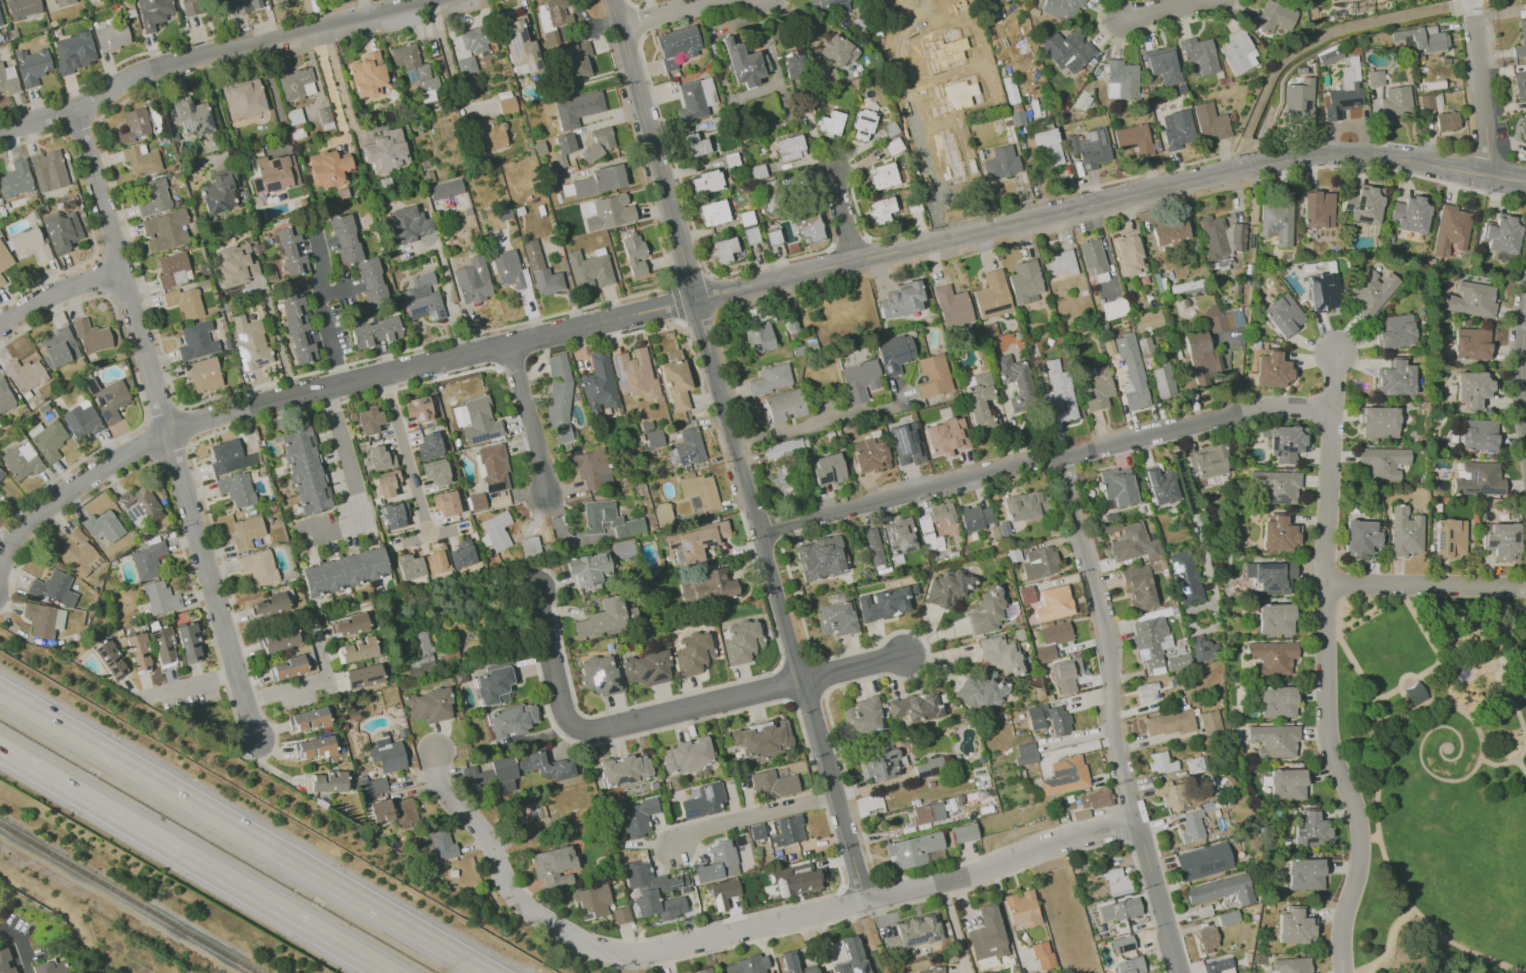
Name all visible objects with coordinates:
building: (1354, 0)
building: (90, 1)
building: (1523, 1)
building: (49, 2)
building: (64, 2)
building: (233, 3)
building: (280, 3)
road: (631, 3)
building: (191, 7)
building: (828, 7)
building: (1060, 7)
building: (23, 8)
road: (671, 12)
building: (154, 13)
road: (1169, 14)
building: (1273, 17)
building: (553, 19)
road: (640, 20)
building: (1, 21)
building: (112, 37)
building: (1423, 39)
building: (1521, 39)
building: (472, 40)
building: (678, 45)
building: (521, 46)
building: (1068, 50)
building: (839, 51)
building: (76, 52)
building: (1239, 52)
building: (1200, 54)
road: (214, 55)
building: (1331, 56)
building: (578, 57)
road: (447, 60)
building: (744, 64)
building: (466, 65)
building: (1164, 65)
building: (33, 66)
building: (795, 66)
building: (413, 67)
road: (107, 70)
building: (367, 74)
building: (825, 76)
building: (1123, 78)
building: (1375, 78)
building: (9, 79)
building: (296, 83)
road: (340, 84)
building: (1520, 85)
road: (330, 88)
road: (1486, 92)
road: (274, 94)
building: (243, 99)
building: (697, 99)
building: (1399, 100)
building: (1343, 101)
building: (1427, 101)
building: (505, 102)
building: (1303, 102)
building: (798, 105)
building: (577, 108)
road: (218, 111)
building: (190, 116)
building: (324, 117)
road: (909, 120)
building: (1211, 122)
building: (1447, 122)
building: (831, 123)
building: (863, 124)
building: (134, 126)
building: (890, 130)
building: (1524, 130)
building: (1179, 131)
building: (489, 135)
building: (1135, 139)
building: (599, 144)
building: (695, 145)
building: (894, 146)
building: (563, 148)
road: (654, 148)
building: (790, 148)
building: (1090, 148)
building: (1048, 149)
building: (386, 150)
building: (142, 160)
building: (732, 160)
building: (1002, 163)
building: (327, 169)
building: (48, 171)
building: (758, 172)
building: (274, 173)
building: (953, 174)
building: (883, 176)
building: (17, 179)
building: (600, 180)
building: (708, 182)
building: (445, 189)
building: (219, 191)
building: (790, 194)
building: (152, 197)
road: (1108, 201)
building: (913, 203)
building: (1364, 204)
building: (882, 209)
building: (1317, 209)
building: (503, 210)
building: (608, 212)
building: (715, 212)
building: (1410, 214)
road: (690, 216)
road: (92, 218)
building: (747, 218)
road: (843, 220)
building: (1276, 220)
building: (407, 223)
building: (811, 227)
road: (920, 228)
building: (167, 230)
road: (863, 230)
building: (1450, 230)
building: (1170, 232)
building: (64, 233)
building: (1501, 234)
building: (753, 235)
building: (774, 237)
building: (1222, 238)
road: (849, 239)
building: (30, 246)
building: (725, 250)
building: (290, 252)
building: (1128, 253)
building: (634, 255)
building: (5, 258)
building: (1093, 258)
building: (358, 260)
building: (1061, 263)
building: (1221, 263)
building: (236, 264)
road: (132, 267)
building: (507, 268)
building: (173, 270)
building: (541, 270)
building: (589, 270)
building: (2, 280)
building: (473, 280)
building: (1025, 282)
building: (1322, 291)
building: (1370, 292)
road: (58, 295)
building: (992, 295)
building: (423, 297)
building: (1470, 299)
building: (901, 300)
building: (185, 302)
building: (952, 306)
building: (1114, 308)
road: (320, 312)
building: (1283, 314)
building: (1222, 318)
building: (1147, 320)
road: (499, 328)
building: (297, 329)
building: (1394, 330)
building: (376, 332)
building: (92, 337)
road: (277, 337)
building: (759, 338)
building: (198, 341)
building: (250, 342)
building: (1471, 343)
building: (61, 347)
building: (894, 353)
building: (1200, 356)
road: (1522, 362)
road: (430, 365)
road: (503, 365)
building: (1272, 370)
building: (1131, 372)
building: (634, 373)
building: (204, 375)
building: (933, 375)
building: (26, 376)
building: (1394, 378)
building: (770, 379)
building: (676, 380)
building: (860, 380)
building: (1014, 380)
building: (1163, 381)
road: (418, 383)
building: (598, 384)
road: (1335, 385)
building: (1096, 386)
building: (1472, 389)
building: (1059, 394)
road: (134, 395)
building: (6, 396)
building: (977, 397)
building: (109, 398)
building: (559, 398)
building: (785, 405)
building: (418, 408)
road: (158, 412)
building: (82, 420)
building: (369, 420)
building: (476, 420)
road: (528, 422)
building: (1379, 422)
road: (828, 423)
road: (188, 427)
road: (165, 428)
building: (1478, 434)
building: (946, 436)
building: (654, 438)
building: (48, 439)
building: (1283, 442)
building: (907, 443)
building: (429, 446)
building: (686, 448)
building: (782, 448)
road: (344, 455)
building: (869, 455)
road: (406, 456)
building: (230, 458)
building: (380, 458)
road: (170, 460)
building: (1207, 460)
building: (23, 461)
road: (1045, 462)
building: (1382, 462)
building: (493, 468)
building: (593, 468)
building: (305, 469)
building: (827, 469)
building: (436, 472)
building: (2, 474)
building: (1478, 479)
building: (782, 481)
building: (387, 484)
building: (1160, 485)
building: (1117, 486)
building: (1275, 486)
building: (237, 489)
road: (70, 490)
building: (700, 490)
building: (476, 501)
building: (445, 502)
building: (1024, 505)
building: (141, 506)
building: (662, 513)
building: (395, 515)
building: (936, 516)
building: (975, 517)
road: (173, 518)
building: (609, 519)
building: (104, 528)
road: (333, 529)
building: (248, 530)
building: (497, 530)
building: (1404, 532)
road: (435, 534)
building: (1278, 534)
road: (213, 535)
road: (1198, 535)
building: (899, 536)
building: (1360, 536)
building: (1449, 537)
building: (1501, 540)
building: (695, 541)
building: (1132, 543)
building: (530, 546)
building: (873, 546)
building: (79, 553)
building: (461, 554)
building: (820, 557)
building: (149, 558)
building: (436, 559)
building: (1039, 562)
building: (409, 566)
building: (260, 567)
building: (588, 568)
building: (345, 571)
building: (1185, 577)
road: (1426, 584)
building: (708, 586)
building: (1138, 587)
building: (55, 588)
building: (947, 588)
building: (160, 598)
road: (1354, 598)
road: (779, 599)
building: (886, 602)
building: (1053, 603)
building: (270, 605)
road: (1387, 607)
building: (986, 612)
road: (1462, 617)
building: (602, 618)
building: (835, 618)
road: (1513, 618)
building: (1275, 619)
building: (45, 621)
building: (350, 625)
building: (1055, 633)
building: (280, 641)
building: (741, 641)
building: (189, 643)
building: (163, 645)
building: (1200, 648)
building: (356, 650)
building: (138, 651)
building: (692, 652)
building: (1044, 653)
building: (420, 654)
building: (1000, 655)
building: (1273, 656)
building: (110, 658)
building: (1178, 662)
building: (290, 667)
building: (647, 668)
road: (854, 670)
building: (600, 674)
building: (1066, 675)
building: (363, 676)
road: (1448, 679)
road: (1515, 683)
road: (309, 684)
building: (494, 684)
road: (193, 685)
road: (1427, 689)
building: (1147, 691)
building: (978, 692)
building: (1414, 692)
road: (1326, 698)
road: (1405, 700)
building: (1277, 701)
building: (429, 705)
building: (915, 707)
road: (1517, 714)
building: (863, 716)
road: (1112, 716)
building: (1048, 718)
building: (309, 719)
building: (511, 720)
building: (1209, 721)
building: (1168, 723)
road: (619, 726)
road: (1431, 730)
building: (762, 738)
building: (1273, 740)
building: (315, 747)
building: (387, 753)
building: (1025, 753)
building: (686, 754)
road: (1523, 756)
building: (1159, 762)
building: (883, 764)
building: (1196, 764)
building: (929, 767)
road: (1474, 768)
building: (625, 770)
building: (514, 772)
building: (1065, 775)
park: (1437, 777)
building: (328, 782)
building: (773, 784)
building: (1287, 784)
building: (371, 786)
road: (1377, 789)
building: (1168, 792)
building: (1095, 799)
building: (703, 801)
building: (395, 811)
building: (927, 813)
road: (752, 815)
building: (637, 817)
building: (1191, 825)
building: (1310, 829)
building: (756, 831)
building: (788, 831)
road: (244, 832)
building: (964, 832)
road: (1369, 837)
building: (442, 845)
building: (912, 849)
road: (194, 861)
building: (1203, 861)
building: (717, 863)
building: (554, 866)
building: (1306, 873)
building: (797, 879)
building: (1117, 882)
building: (1222, 889)
building: (653, 891)
building: (723, 893)
railway: (128, 898)
building: (592, 901)
road: (118, 904)
building: (1022, 909)
building: (1119, 909)
building: (621, 915)
building: (1228, 917)
building: (1296, 927)
road: (739, 932)
building: (912, 933)
building: (986, 935)
building: (1207, 939)
road: (1389, 943)
building: (1122, 944)
road: (16, 948)
building: (1042, 955)
building: (850, 957)
building: (5, 962)
building: (747, 965)
building: (794, 965)
building: (1129, 965)
building: (1291, 965)
building: (1217, 966)
building: (49, 967)
building: (933, 970)
building: (704, 971)
building: (1048, 972)
building: (1313, 972)

